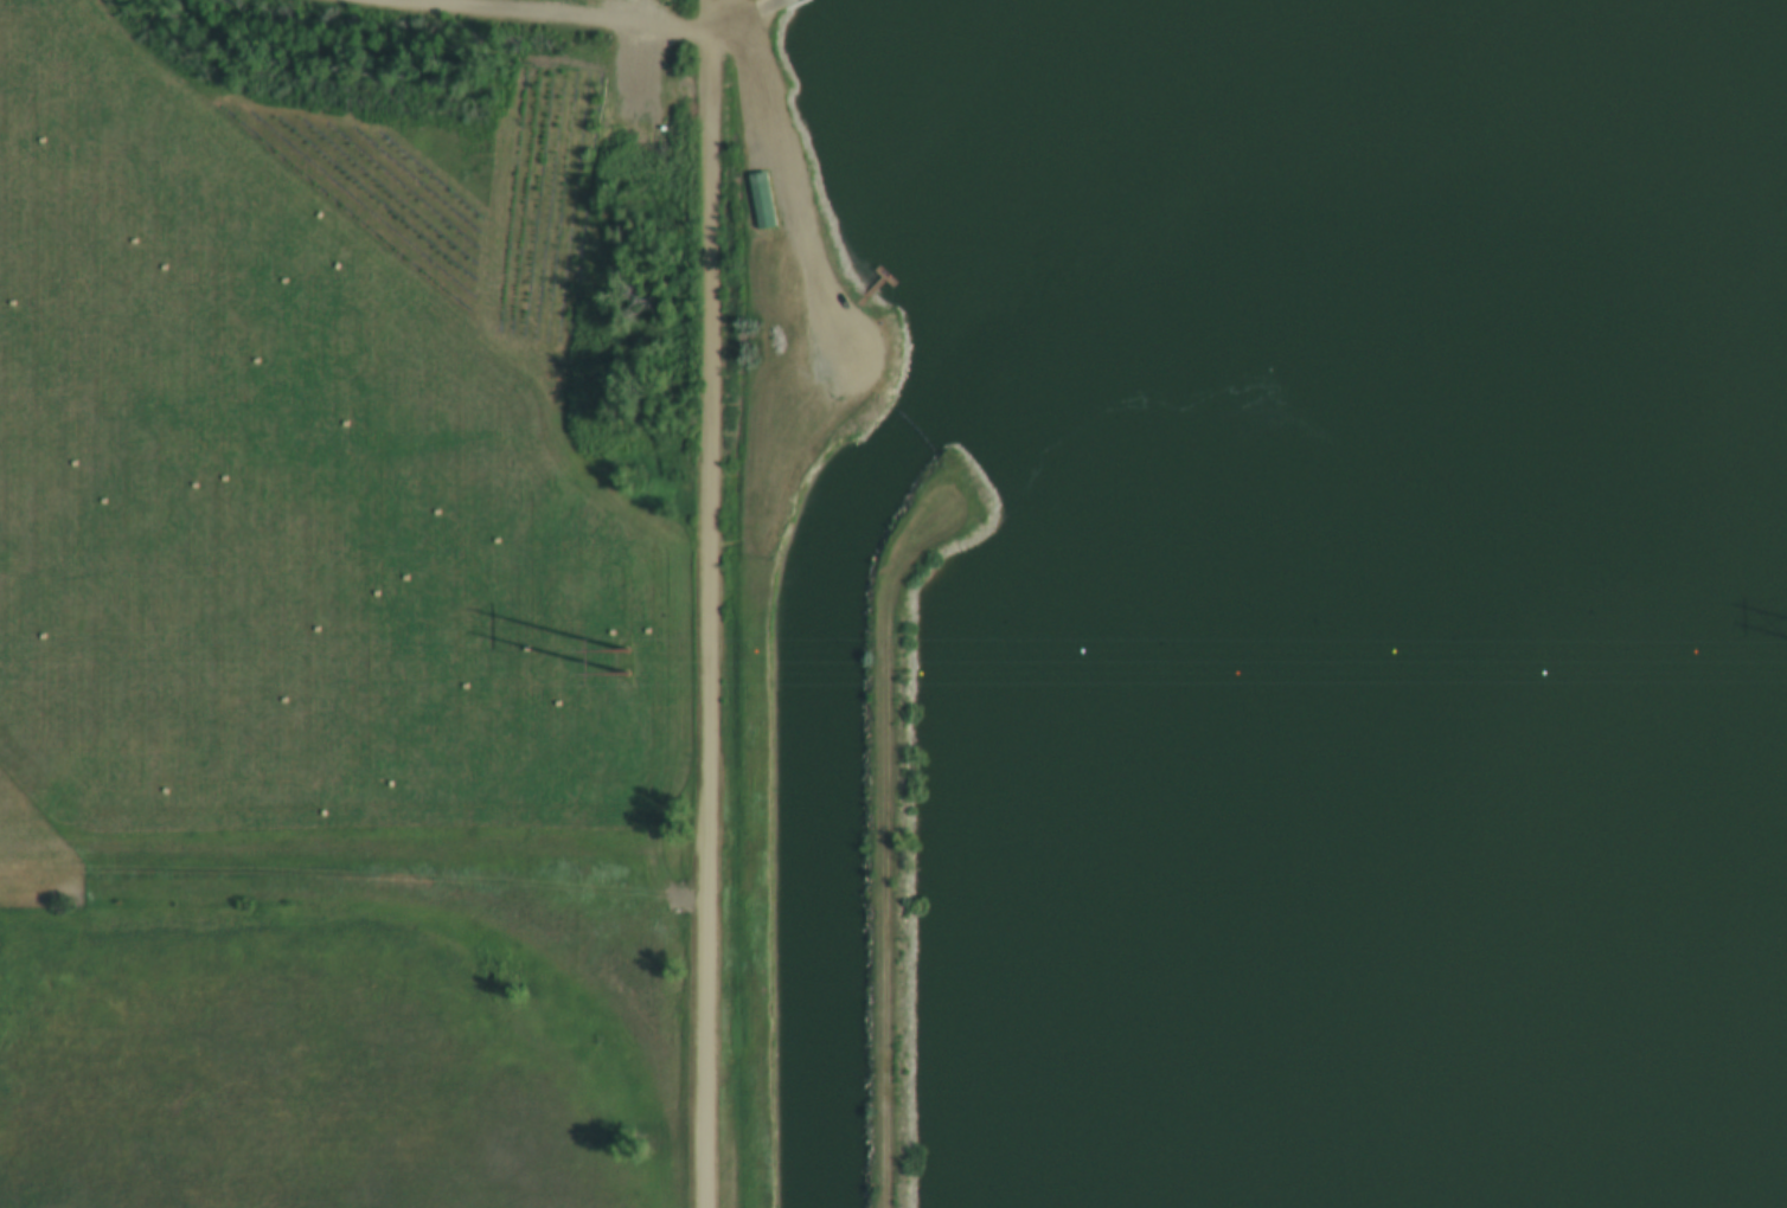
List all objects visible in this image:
road: (741, 19)
road: (706, 443)
power tower: (622, 667)
road: (884, 860)
road: (353, 888)

